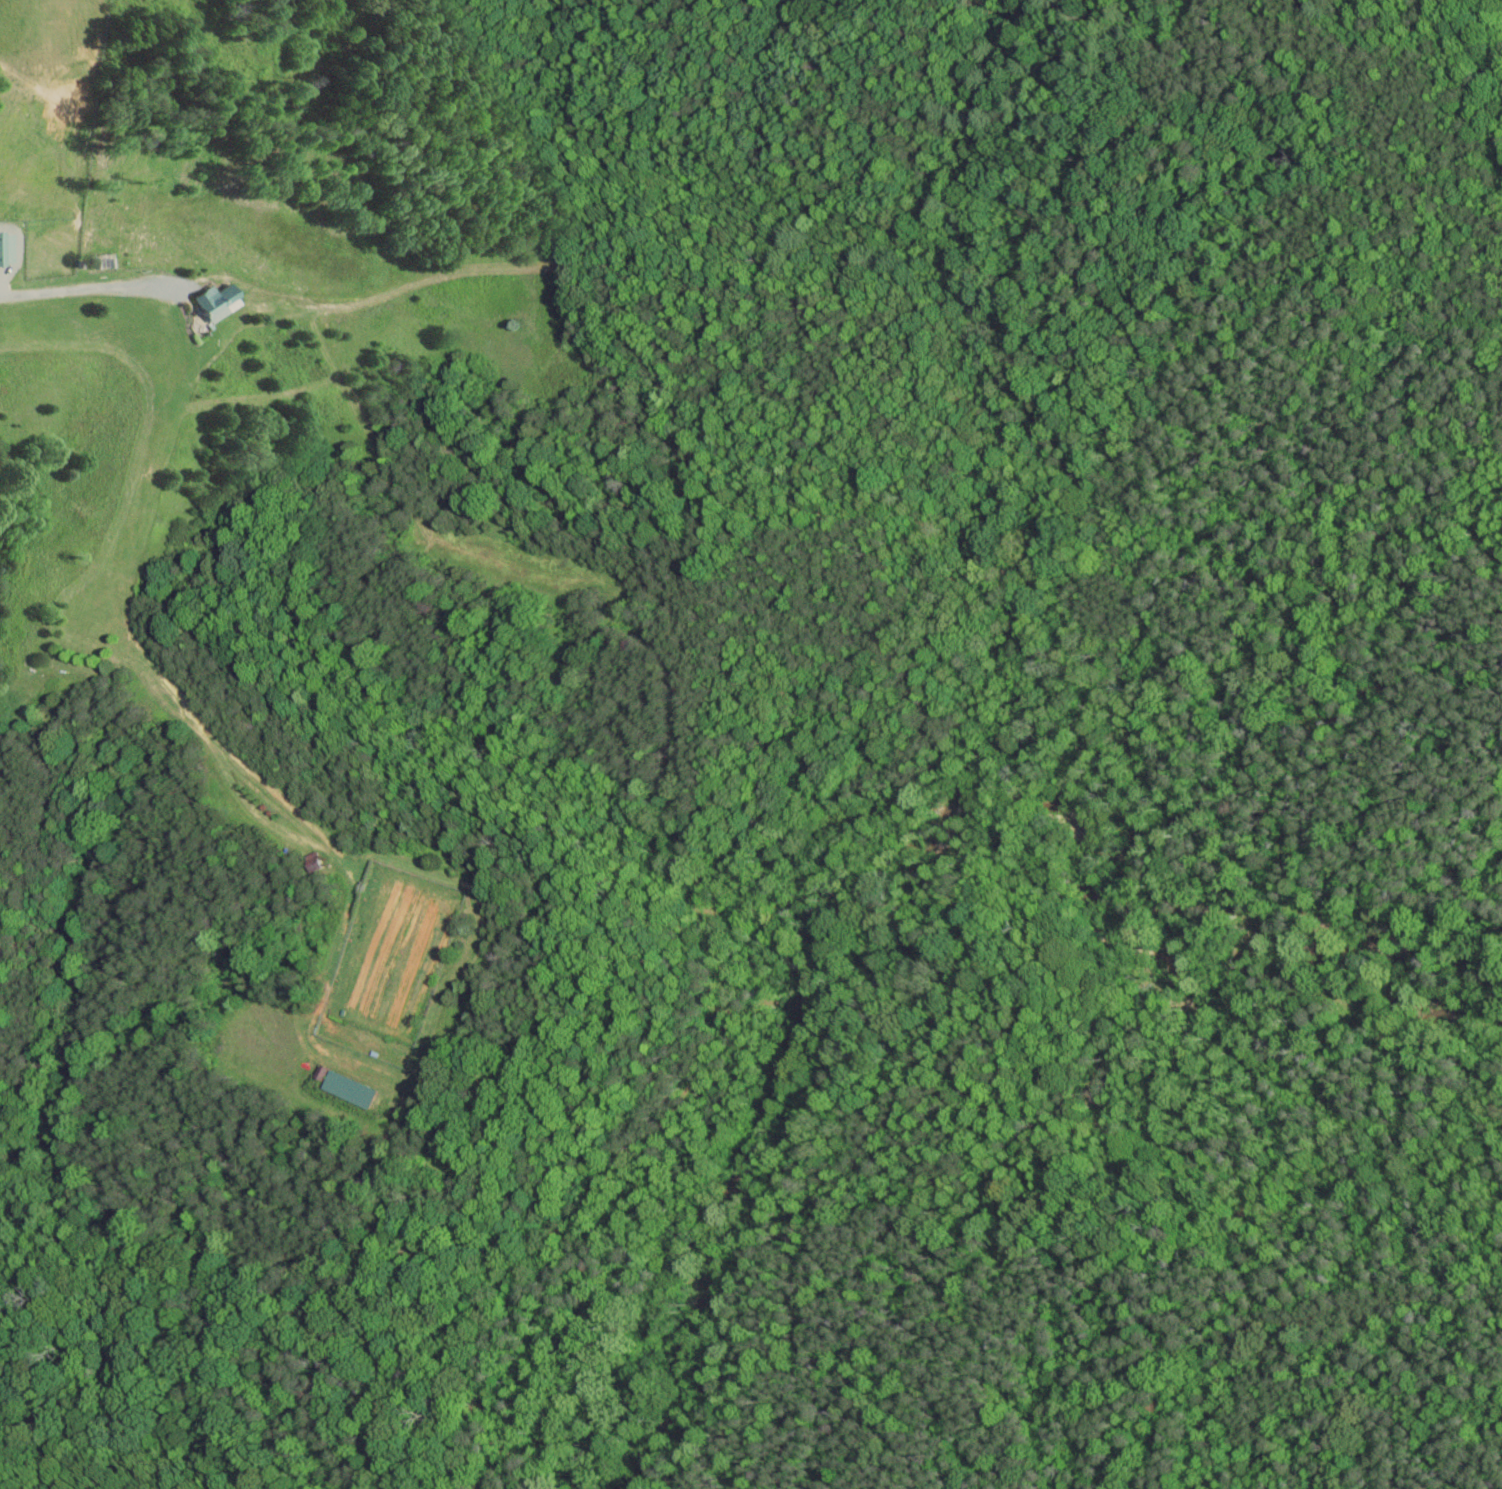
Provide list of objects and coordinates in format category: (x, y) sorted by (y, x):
building: (8, 247)
road: (88, 290)
building: (221, 300)
building: (356, 1088)

